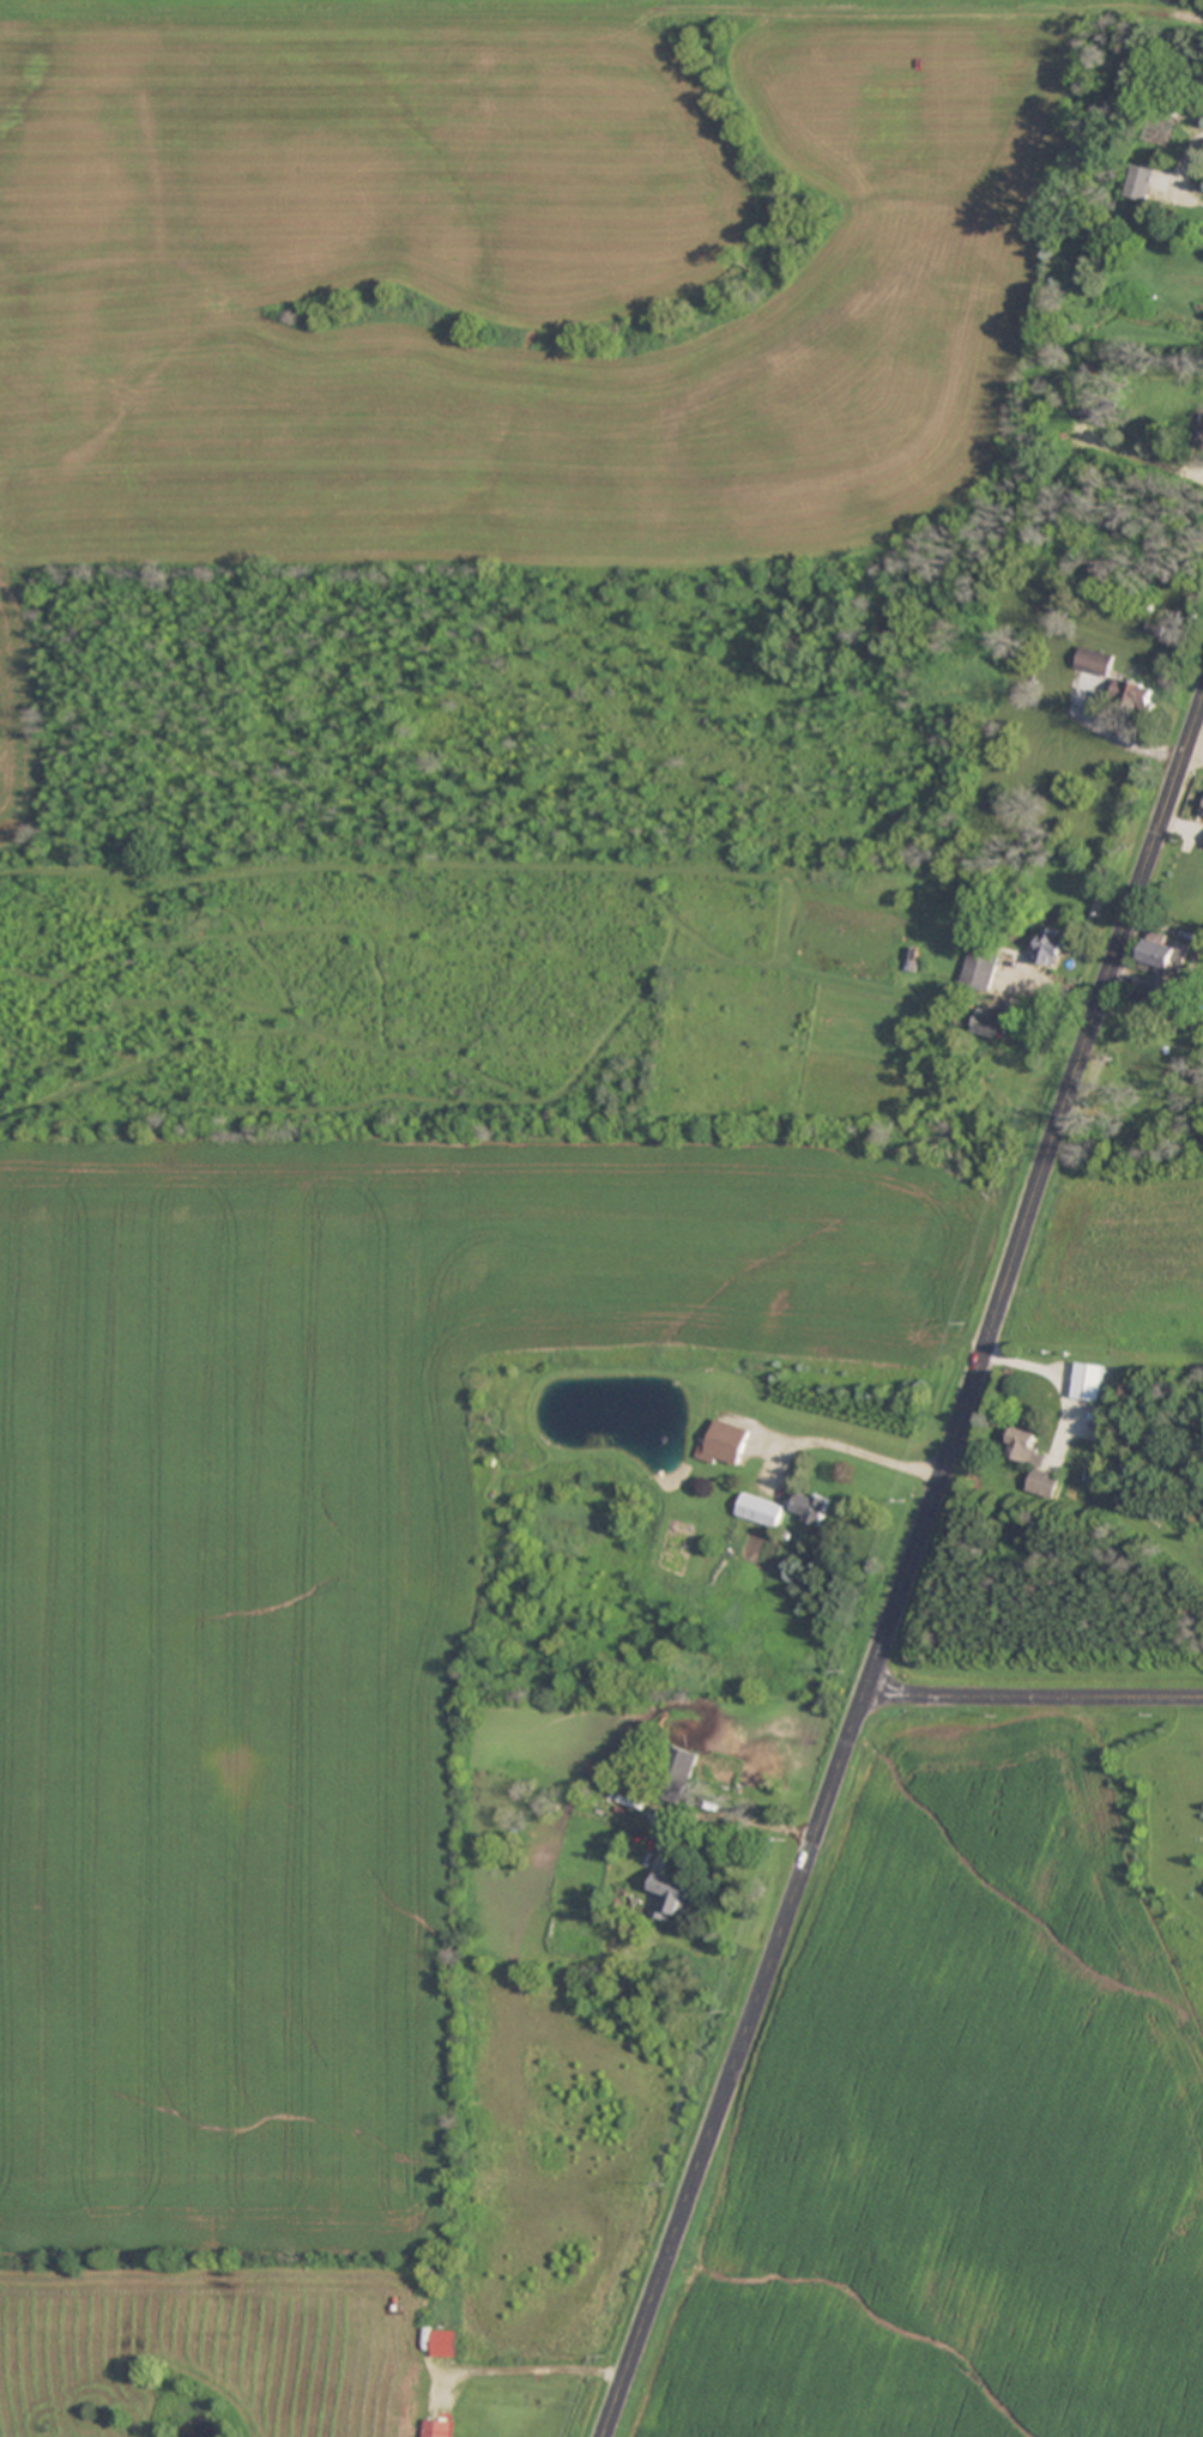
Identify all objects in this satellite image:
building: (1175, 99)
road: (1187, 153)
building: (1145, 182)
building: (1093, 660)
building: (1130, 691)
building: (1048, 947)
building: (1162, 955)
building: (980, 969)
building: (993, 1024)
building: (1088, 1381)
building: (729, 1423)
building: (1033, 1462)
building: (810, 1507)
building: (761, 1510)
road: (908, 1564)
road: (1033, 1693)
building: (677, 1773)
building: (669, 1897)
building: (435, 2427)

